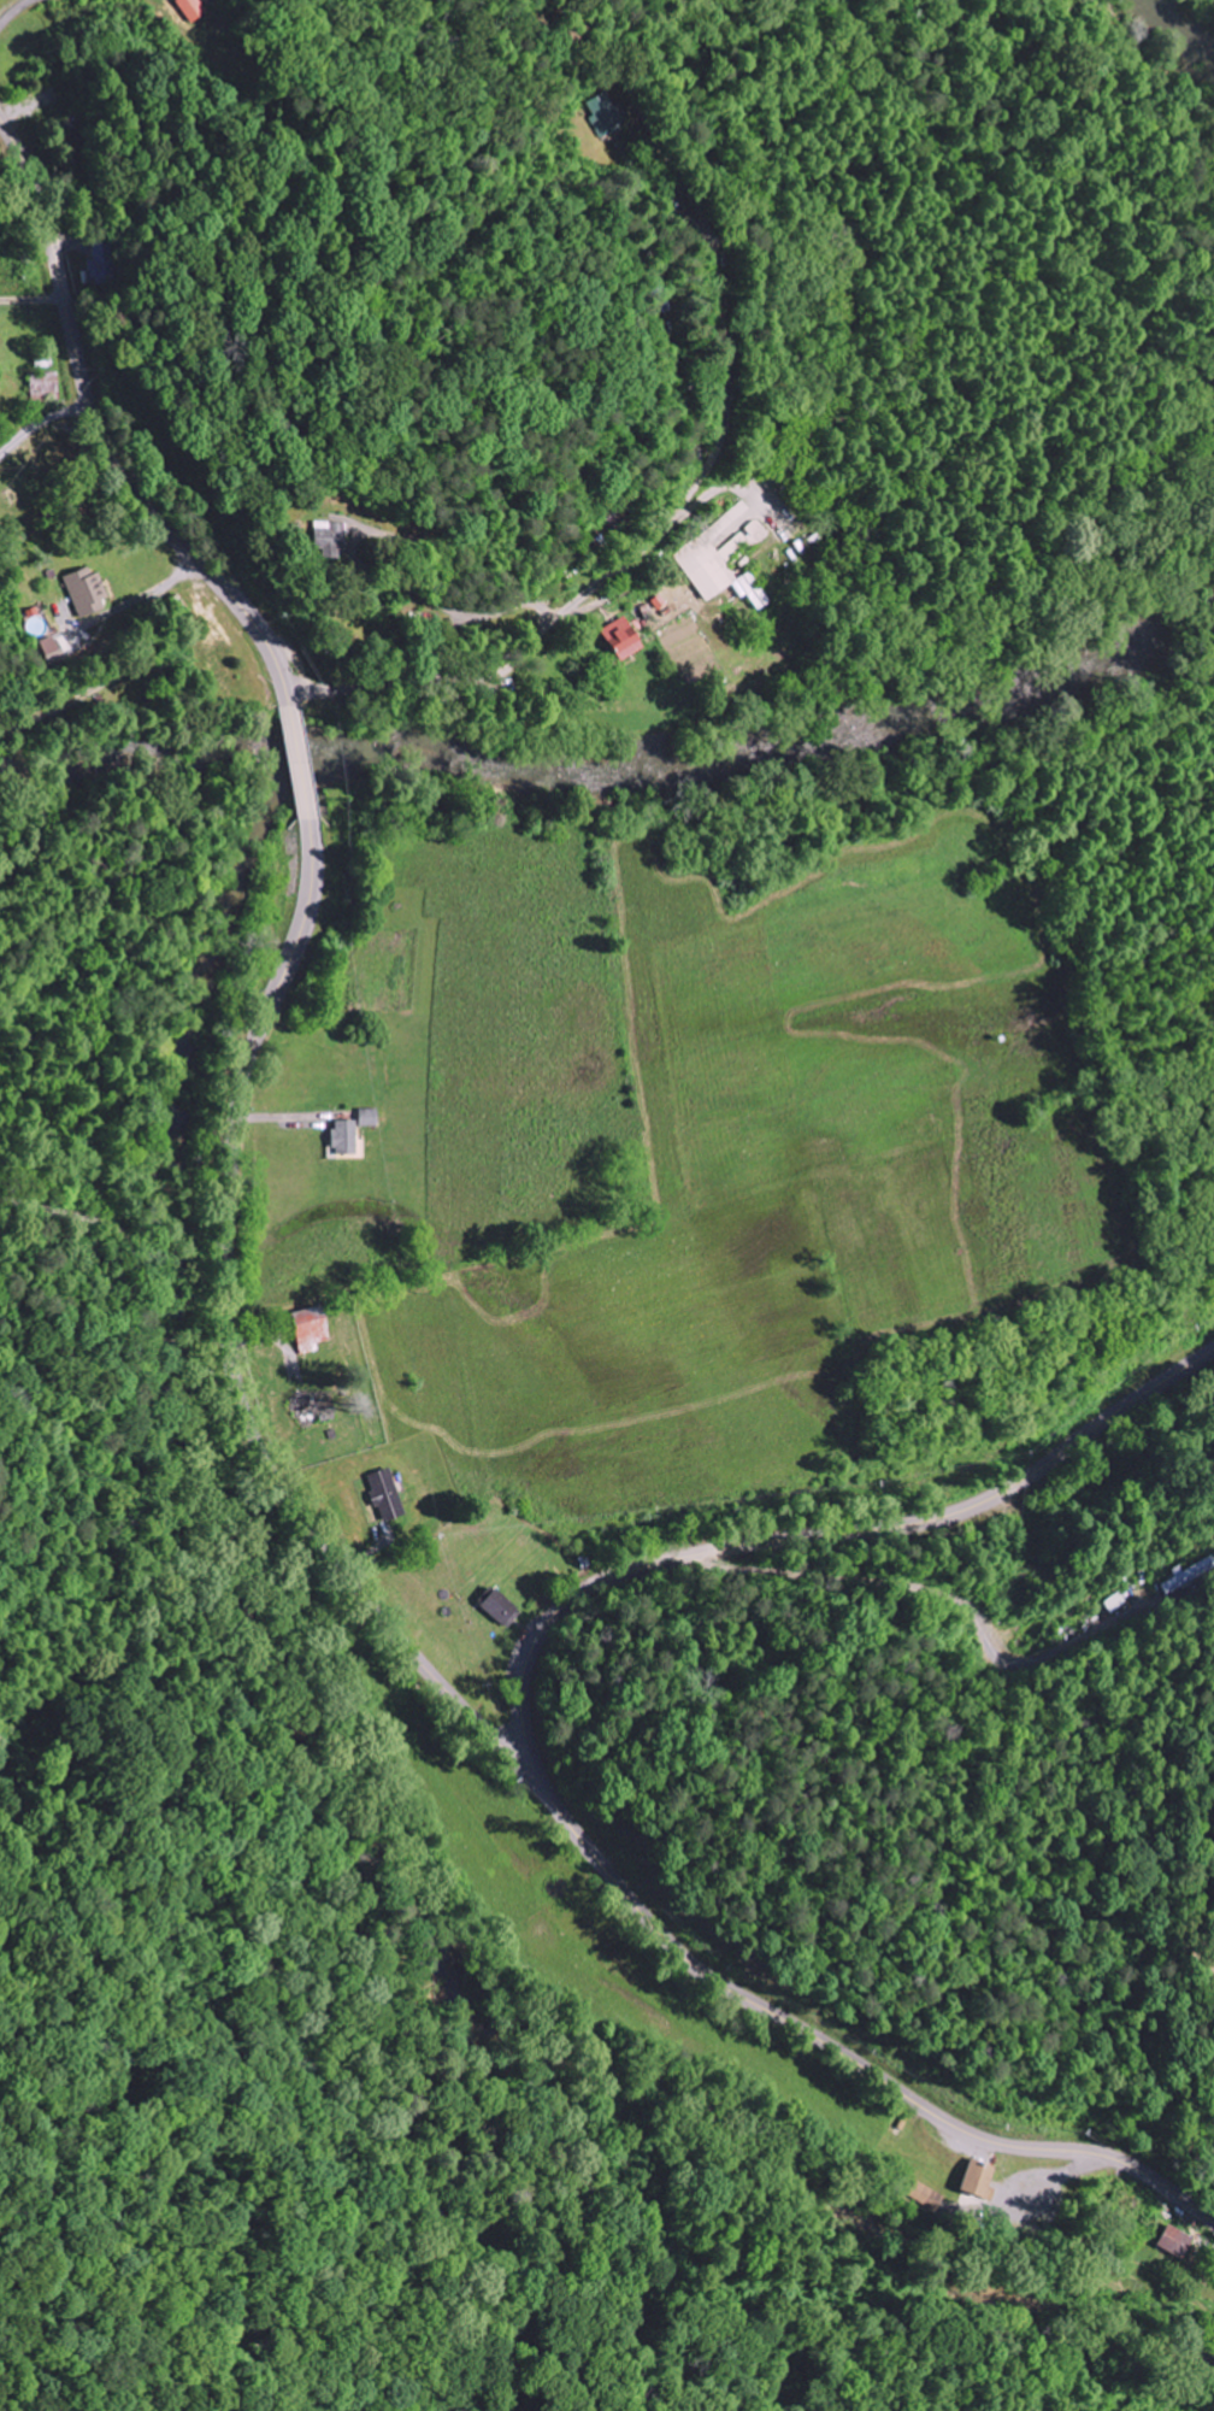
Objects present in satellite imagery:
building: (191, 8)
river: (1192, 33)
building: (603, 114)
building: (104, 263)
building: (47, 384)
road: (101, 436)
building: (621, 521)
building: (334, 535)
building: (724, 558)
building: (87, 592)
building: (47, 639)
building: (624, 639)
road: (518, 659)
road: (120, 675)
river: (819, 734)
river: (202, 746)
road: (299, 763)
building: (346, 1137)
building: (312, 1328)
road: (230, 1358)
river: (158, 1394)
building: (388, 1495)
road: (805, 1536)
building: (1186, 1574)
building: (502, 1609)
road: (851, 2058)
building: (980, 2180)
building: (926, 2197)
building: (1175, 2242)

